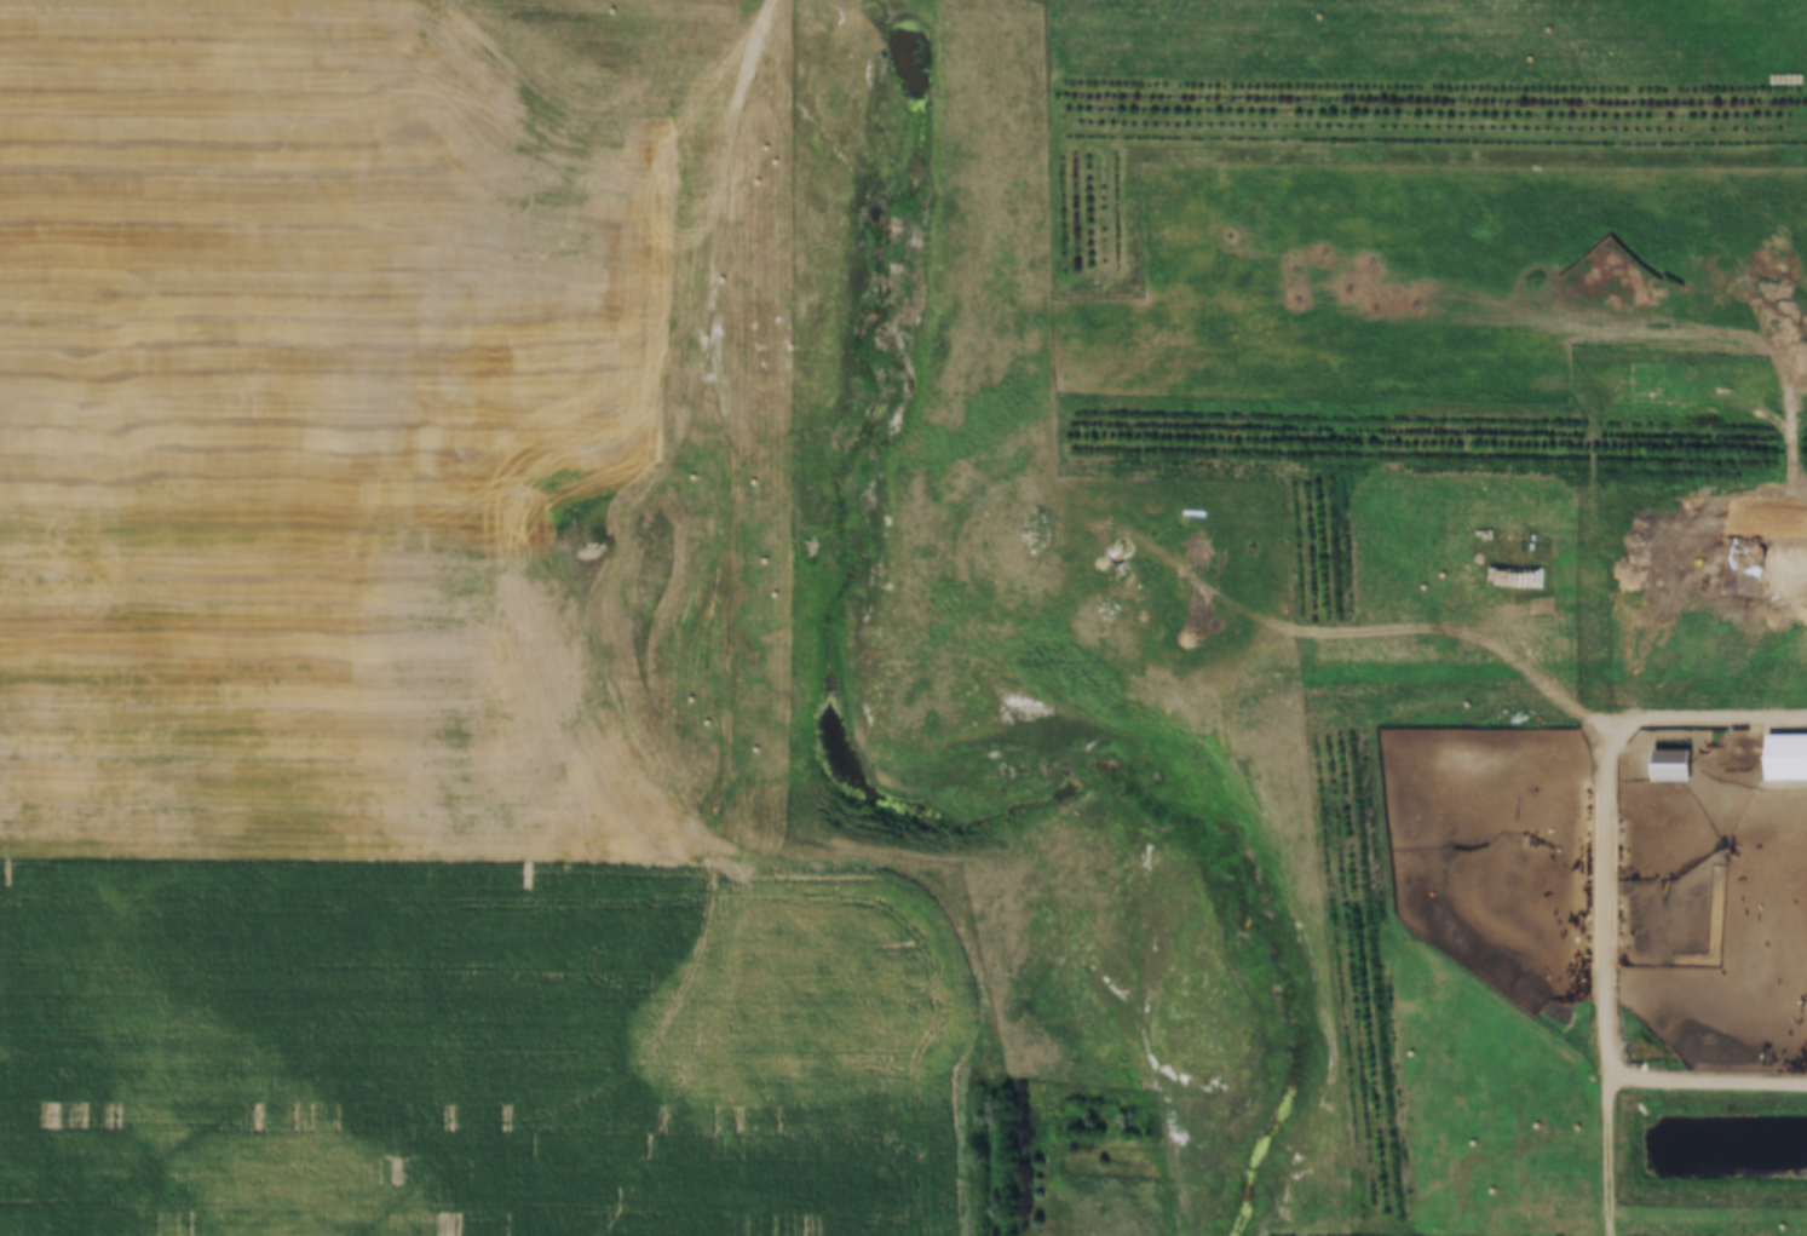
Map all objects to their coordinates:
building: (1671, 763)
building: (1772, 775)

